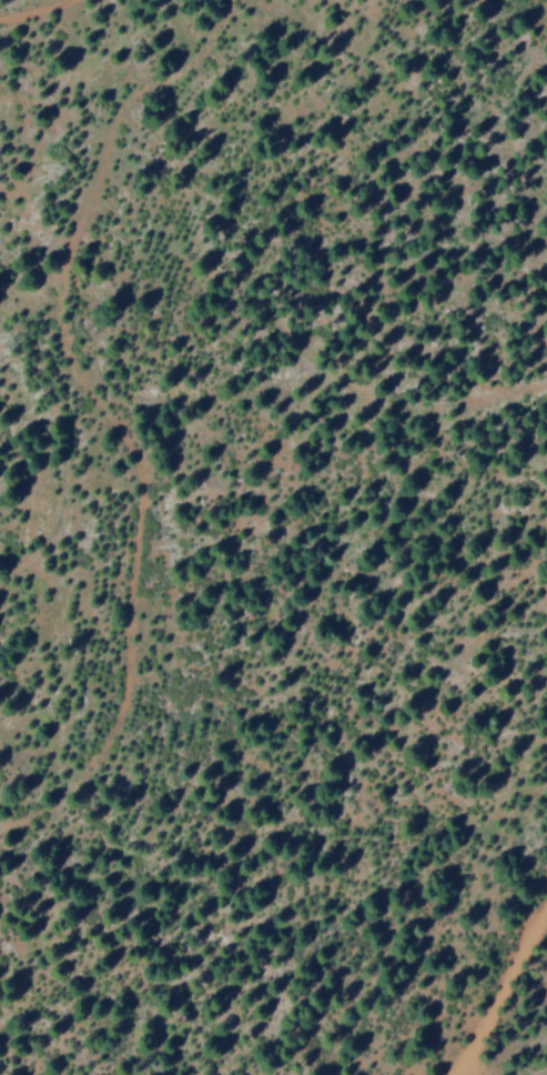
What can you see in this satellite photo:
road: (30, 9)
road: (502, 992)

